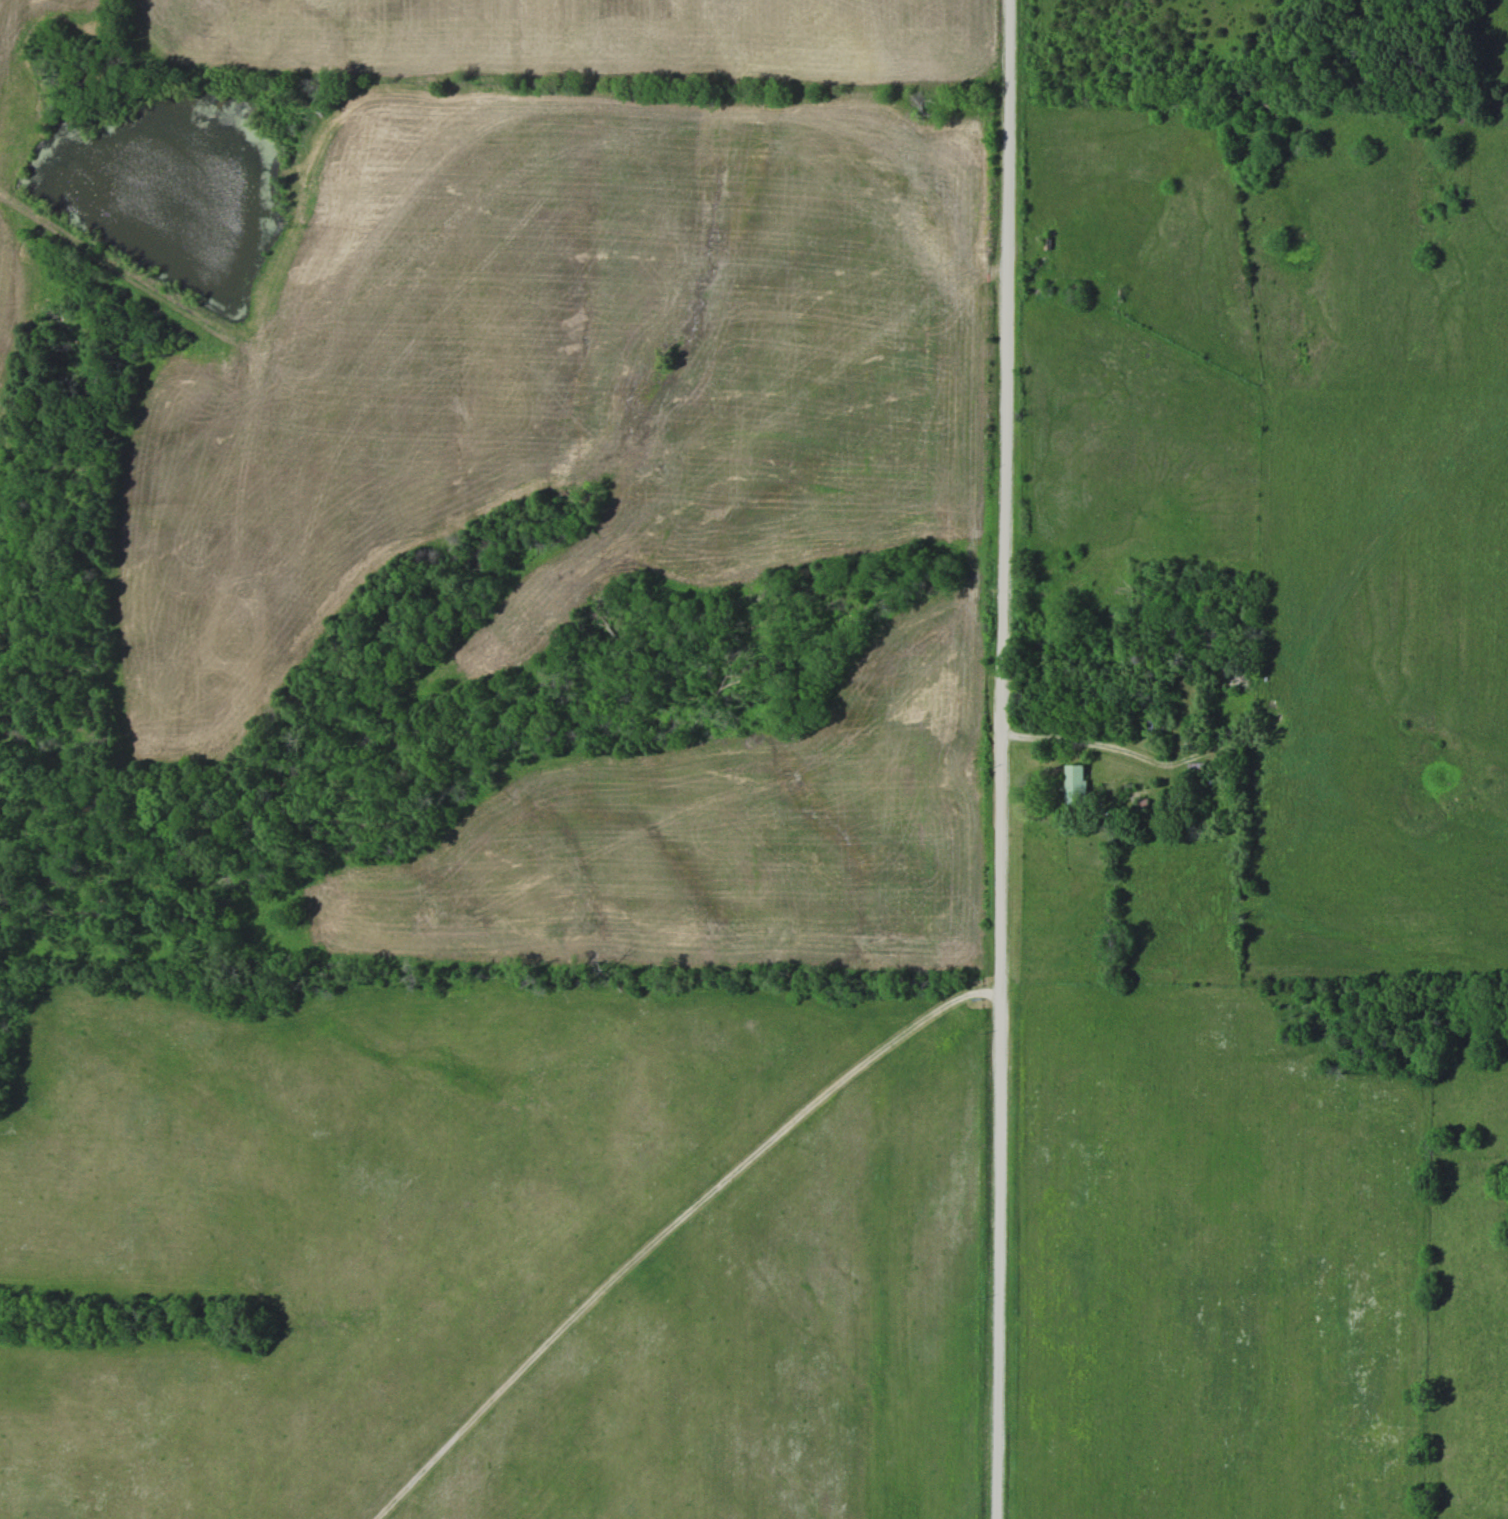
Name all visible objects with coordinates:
road: (1001, 759)

